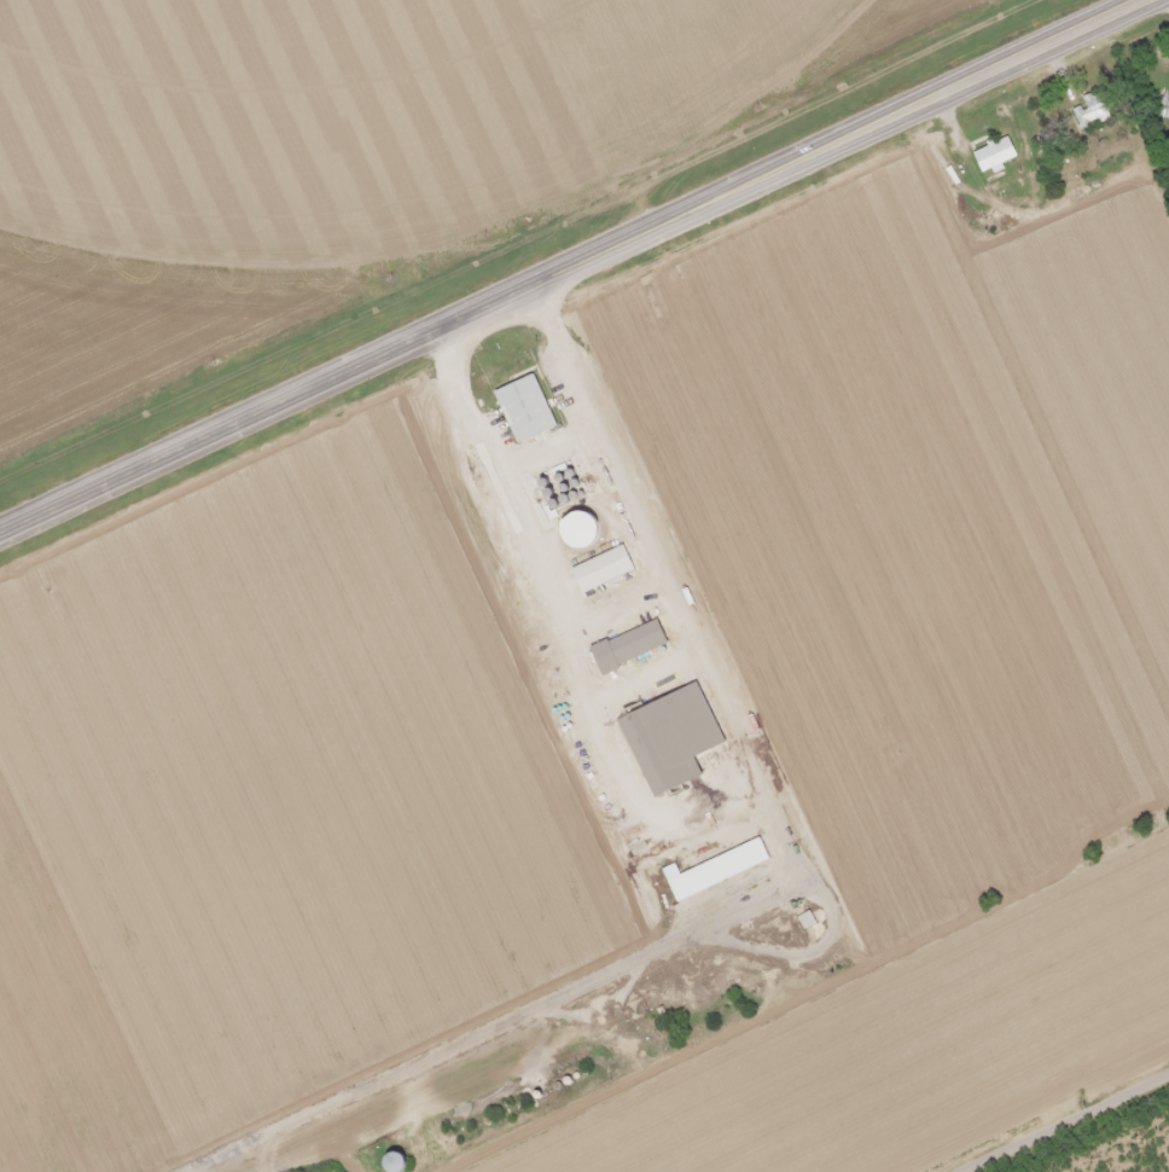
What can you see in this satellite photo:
building: (1087, 115)
building: (990, 155)
road: (574, 265)
building: (522, 410)
building: (599, 570)
road: (664, 585)
building: (626, 648)
building: (711, 871)
airport runway: (432, 1061)
road: (1072, 1129)
building: (385, 1162)

